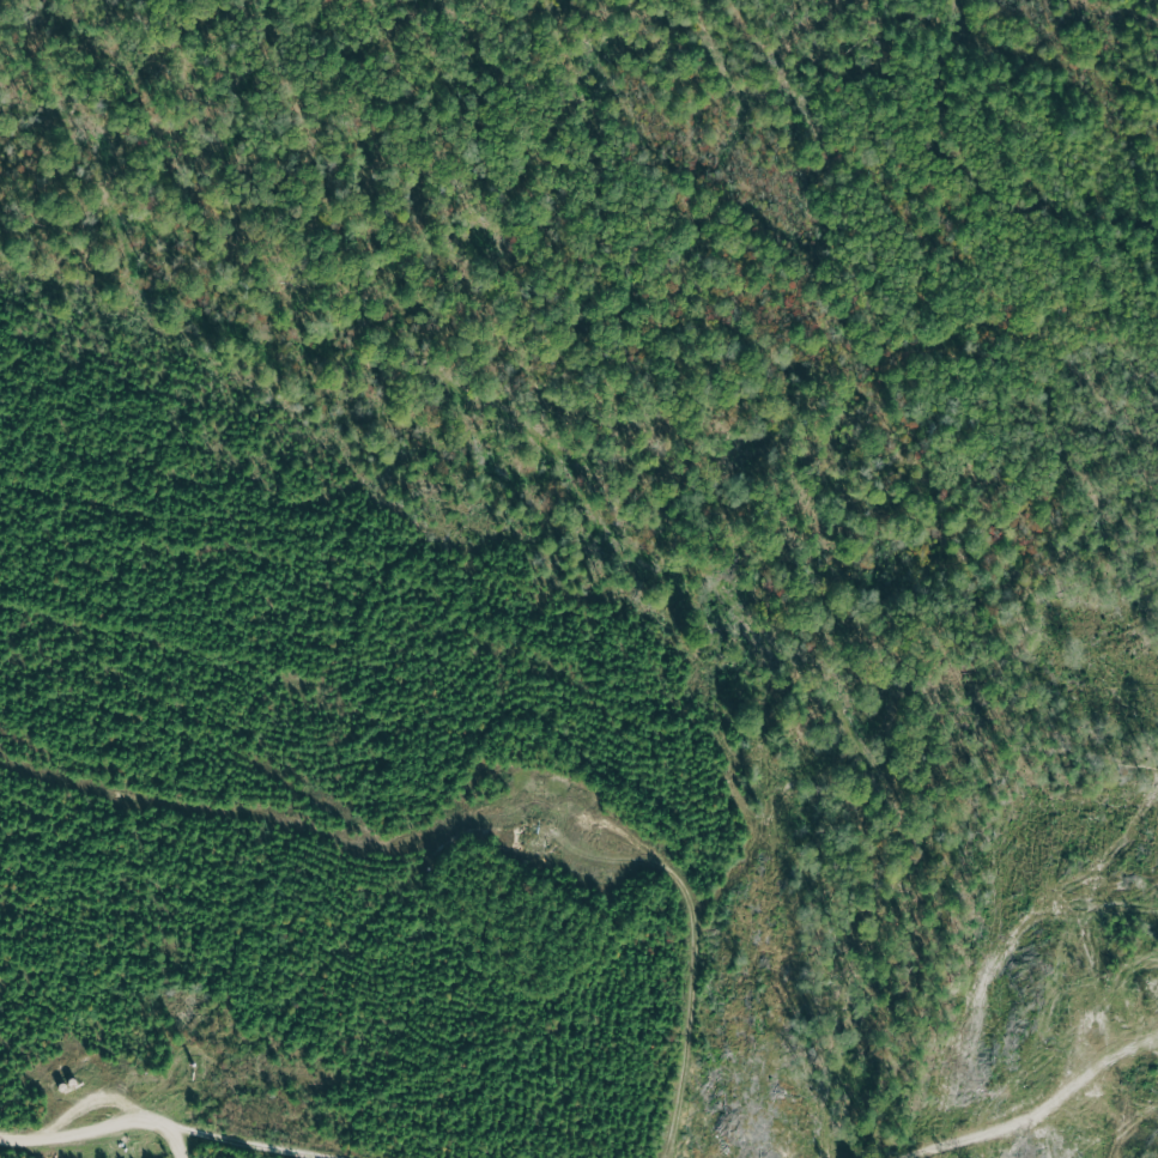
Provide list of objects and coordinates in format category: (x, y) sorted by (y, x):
road: (159, 1123)
road: (965, 1134)

